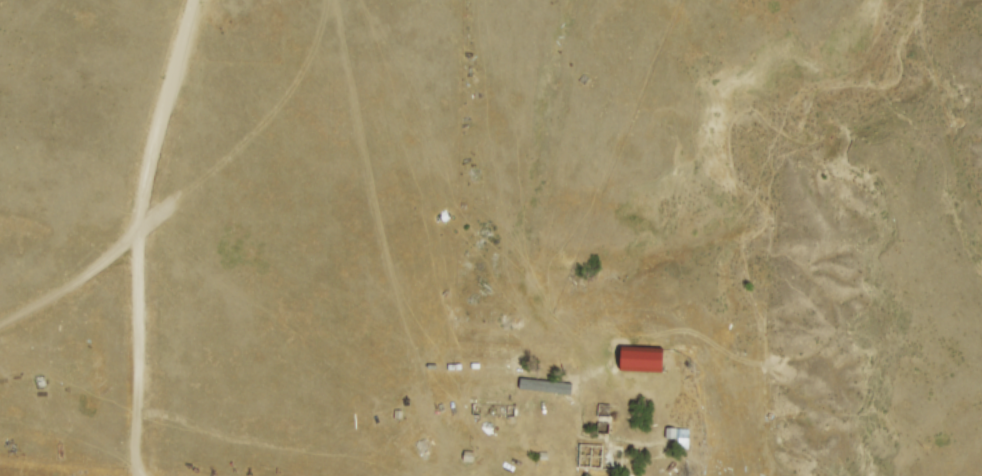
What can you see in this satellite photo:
road: (138, 235)
road: (76, 279)
building: (642, 360)

